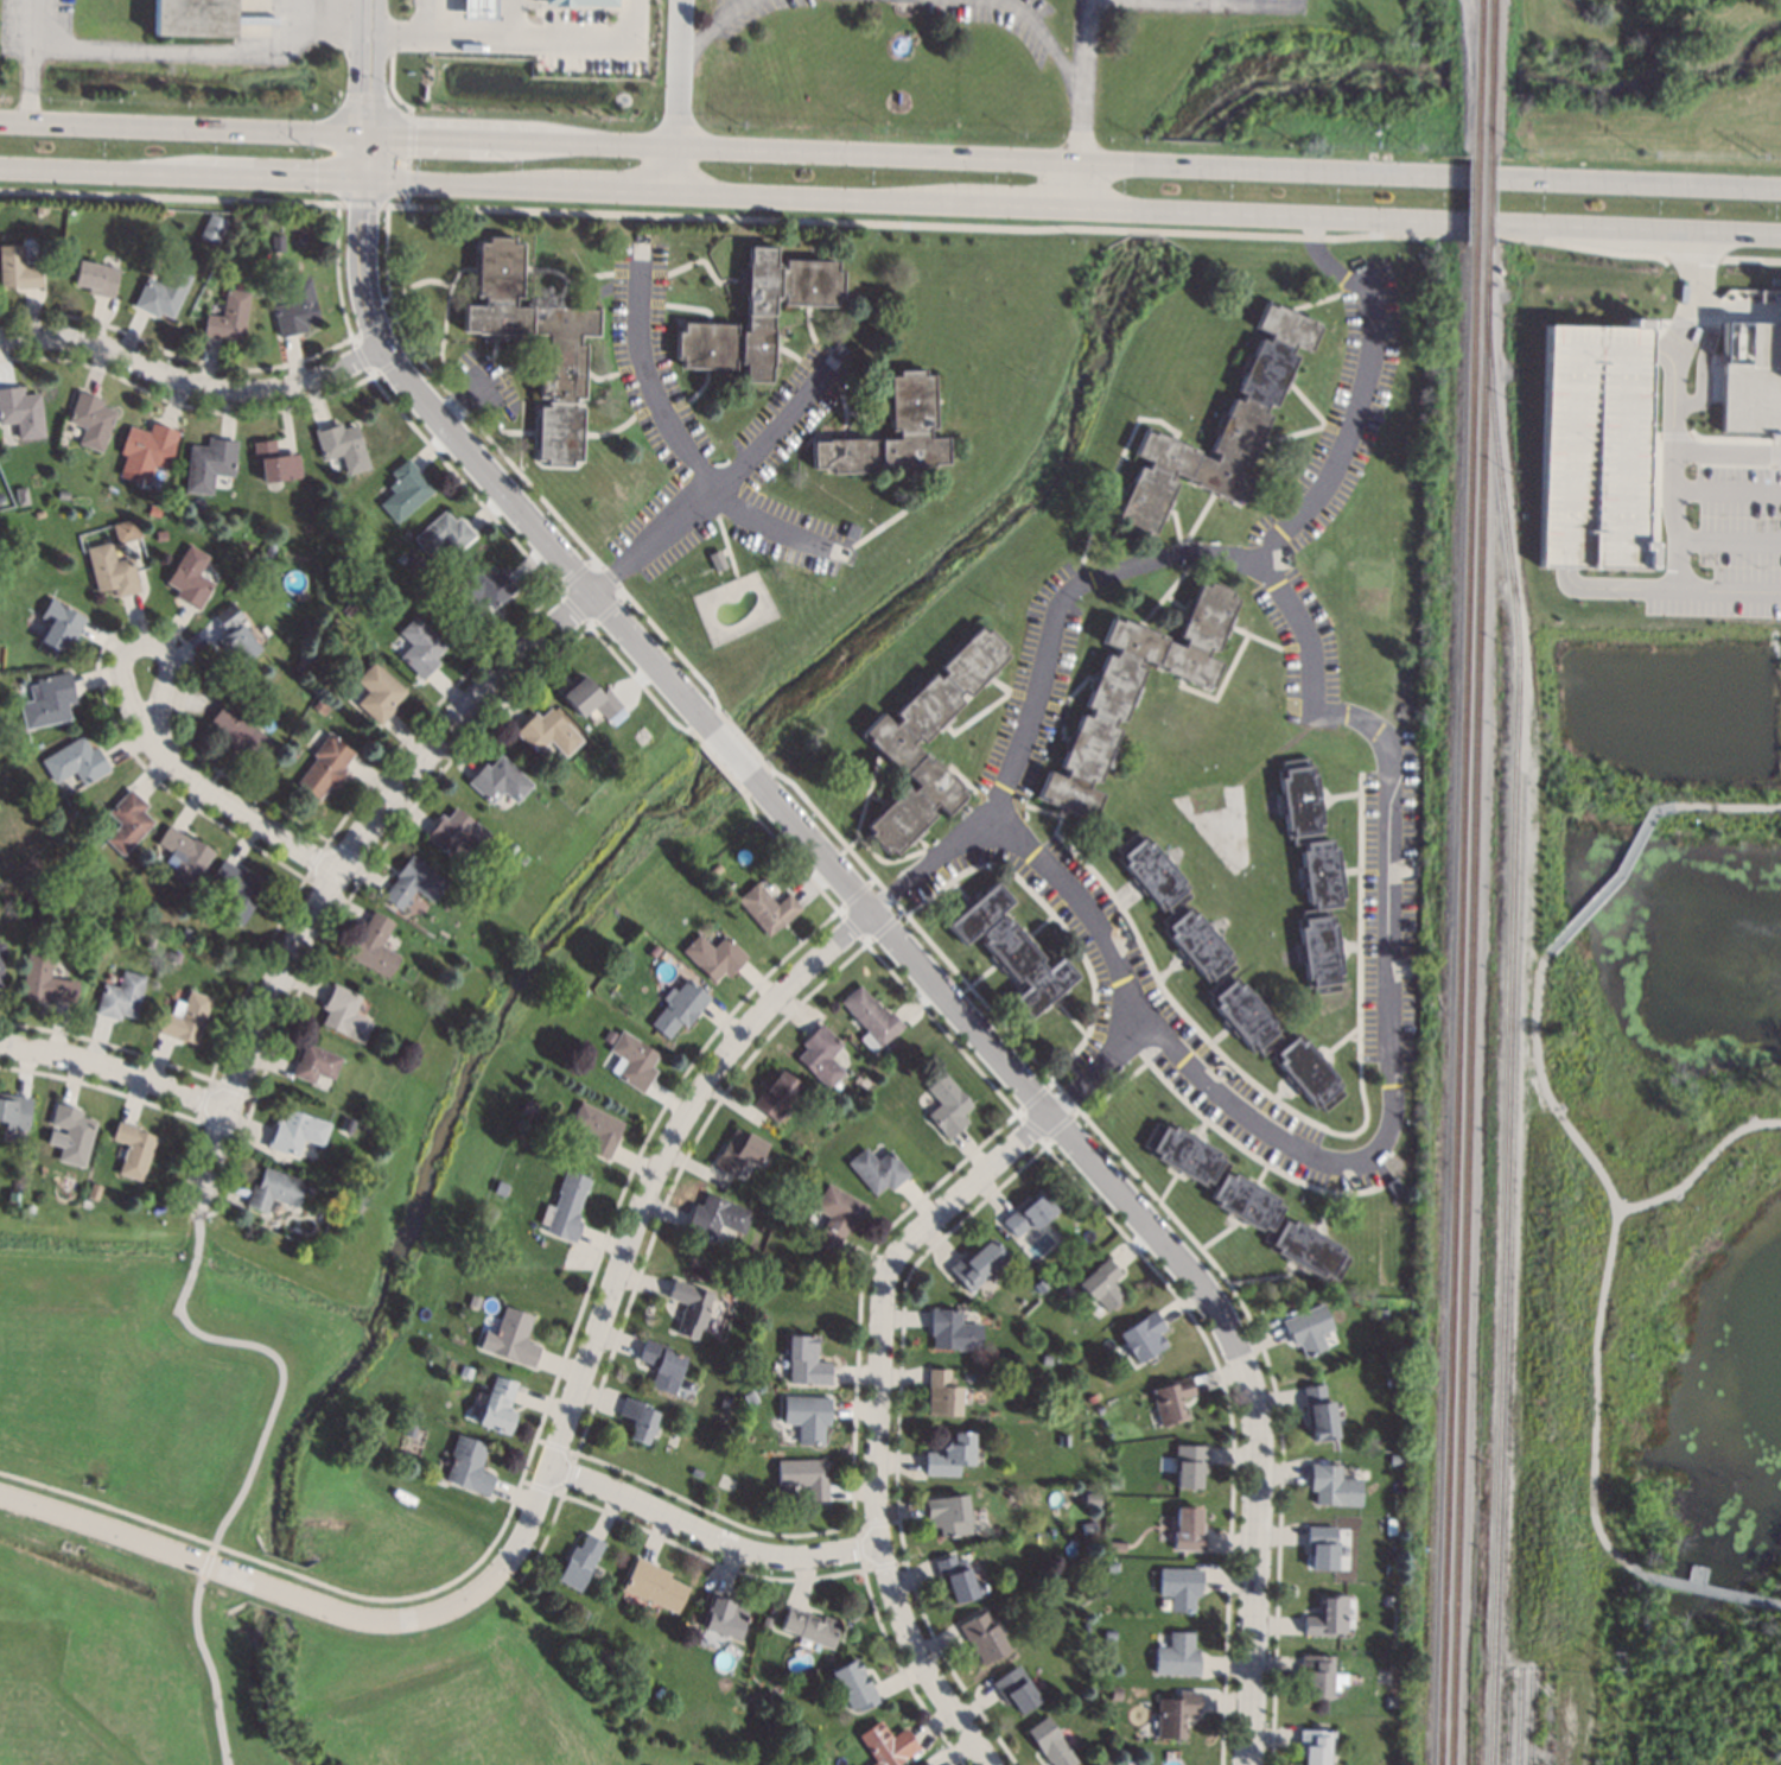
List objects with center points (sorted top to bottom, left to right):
road: (1201, 0)
road: (1248, 1)
building: (580, 2)
road: (1225, 2)
parking lot: (533, 4)
building: (478, 8)
gas station: (478, 8)
building: (191, 17)
road: (438, 18)
road: (33, 24)
road: (710, 28)
road: (519, 38)
road: (1044, 38)
parking lot: (584, 42)
road: (187, 53)
road: (365, 66)
railway: (1477, 76)
railway: (1489, 77)
road: (30, 84)
traffic signals: (365, 91)
road: (675, 96)
road: (1081, 102)
road: (182, 127)
traffic signals: (414, 136)
road: (915, 154)
road: (363, 158)
road: (97, 172)
road: (1478, 177)
road: (278, 178)
traffic signals: (314, 180)
road: (1636, 183)
road: (456, 185)
road: (611, 191)
road: (812, 198)
railway: (1475, 198)
railway: (1487, 199)
road: (1013, 205)
building: (40, 209)
road: (1272, 214)
traffic signals: (362, 215)
building: (250, 221)
road: (833, 222)
road: (1478, 222)
road: (1635, 228)
building: (214, 229)
building: (278, 243)
road: (1692, 256)
road: (1750, 259)
building: (17, 269)
building: (97, 279)
building: (164, 293)
road: (1694, 305)
building: (297, 310)
building: (758, 315)
building: (229, 317)
road: (1665, 356)
road: (1703, 360)
building: (561, 370)
road: (192, 377)
building: (1750, 379)
road: (649, 388)
road: (460, 401)
building: (911, 402)
building: (21, 412)
building: (91, 421)
building: (1221, 430)
road: (1673, 436)
road: (1729, 439)
road: (1774, 442)
building: (343, 446)
building: (1592, 446)
parking garage: (1592, 446)
building: (146, 452)
road: (1686, 452)
building: (275, 463)
building: (210, 464)
road: (484, 472)
road: (1770, 472)
road: (1725, 489)
building: (406, 491)
road: (1654, 494)
building: (63, 495)
road: (721, 495)
building: (23, 496)
building: (1, 497)
building: (40, 514)
road: (1672, 520)
building: (127, 531)
building: (853, 532)
road: (770, 533)
building: (161, 535)
building: (408, 535)
building: (444, 537)
road: (1729, 540)
parking lot: (1736, 544)
building: (271, 550)
road: (1177, 554)
building: (402, 559)
building: (718, 561)
building: (112, 571)
building: (191, 578)
building: (483, 588)
road: (1666, 589)
building: (235, 591)
building: (349, 609)
building: (61, 626)
building: (236, 635)
building: (419, 647)
road: (144, 649)
building: (300, 665)
building: (584, 684)
building: (1136, 691)
building: (379, 692)
building: (50, 701)
building: (322, 706)
building: (609, 707)
building: (546, 732)
building: (242, 735)
building: (892, 741)
road: (727, 749)
building: (76, 762)
building: (325, 767)
building: (498, 781)
road: (1726, 806)
road: (238, 812)
building: (126, 823)
building: (456, 832)
building: (511, 849)
building: (185, 855)
road: (341, 868)
building: (714, 870)
building: (1314, 876)
road: (1614, 877)
building: (413, 883)
building: (730, 883)
building: (238, 891)
building: (34, 897)
building: (768, 908)
building: (32, 918)
building: (152, 939)
building: (375, 946)
building: (1012, 951)
building: (654, 952)
building: (714, 957)
building: (176, 958)
building: (1, 960)
building: (1225, 976)
building: (46, 982)
building: (122, 997)
railway: (1456, 1003)
railway: (1469, 1004)
building: (680, 1008)
building: (344, 1014)
building: (186, 1018)
building: (872, 1018)
railway: (1508, 1023)
building: (610, 1037)
building: (890, 1045)
building: (822, 1056)
building: (634, 1062)
building: (316, 1064)
road: (1098, 1068)
road: (113, 1074)
building: (778, 1096)
road: (1391, 1099)
building: (947, 1106)
building: (528, 1109)
building: (14, 1115)
building: (346, 1125)
building: (598, 1129)
building: (297, 1132)
building: (74, 1134)
park: (1661, 1138)
building: (133, 1149)
building: (740, 1151)
road: (1699, 1163)
road: (986, 1166)
building: (877, 1170)
building: (1395, 1185)
building: (501, 1188)
building: (274, 1191)
building: (343, 1196)
building: (1246, 1201)
road: (641, 1202)
building: (565, 1207)
building: (1031, 1212)
road: (1139, 1215)
building: (835, 1217)
building: (717, 1218)
park: (435, 1231)
road: (1607, 1253)
building: (973, 1268)
building: (1102, 1285)
building: (1041, 1287)
building: (1067, 1289)
building: (473, 1302)
building: (691, 1308)
building: (1381, 1313)
building: (1308, 1329)
building: (953, 1332)
building: (1143, 1337)
building: (510, 1338)
building: (1045, 1360)
building: (806, 1361)
building: (662, 1365)
building: (465, 1372)
building: (967, 1376)
building: (1391, 1382)
building: (942, 1393)
building: (750, 1398)
building: (1092, 1398)
building: (1171, 1402)
building: (725, 1403)
building: (498, 1408)
building: (1099, 1409)
building: (1319, 1412)
building: (807, 1417)
building: (640, 1420)
road: (253, 1455)
building: (949, 1455)
building: (1189, 1465)
building: (469, 1466)
building: (804, 1477)
building: (1113, 1485)
building: (1334, 1486)
road: (876, 1498)
building: (1395, 1498)
building: (1093, 1500)
building: (949, 1515)
building: (1392, 1524)
building: (1089, 1528)
building: (1188, 1530)
road: (710, 1534)
building: (1118, 1548)
building: (1322, 1548)
building: (580, 1562)
building: (1112, 1568)
building: (959, 1579)
road: (261, 1585)
building: (655, 1586)
building: (1181, 1587)
road: (1704, 1589)
building: (724, 1615)
building: (1328, 1617)
building: (767, 1623)
building: (810, 1629)
building: (1109, 1636)
building: (984, 1637)
building: (1177, 1656)
building: (1382, 1656)
building: (1321, 1676)
building: (853, 1685)
building: (1017, 1690)
building: (660, 1694)
building: (1176, 1714)
railway: (1509, 1716)
railway: (1521, 1716)
railway: (1532, 1716)
building: (1051, 1744)
building: (888, 1745)
building: (1316, 1746)
building: (822, 1758)
building: (929, 1764)

